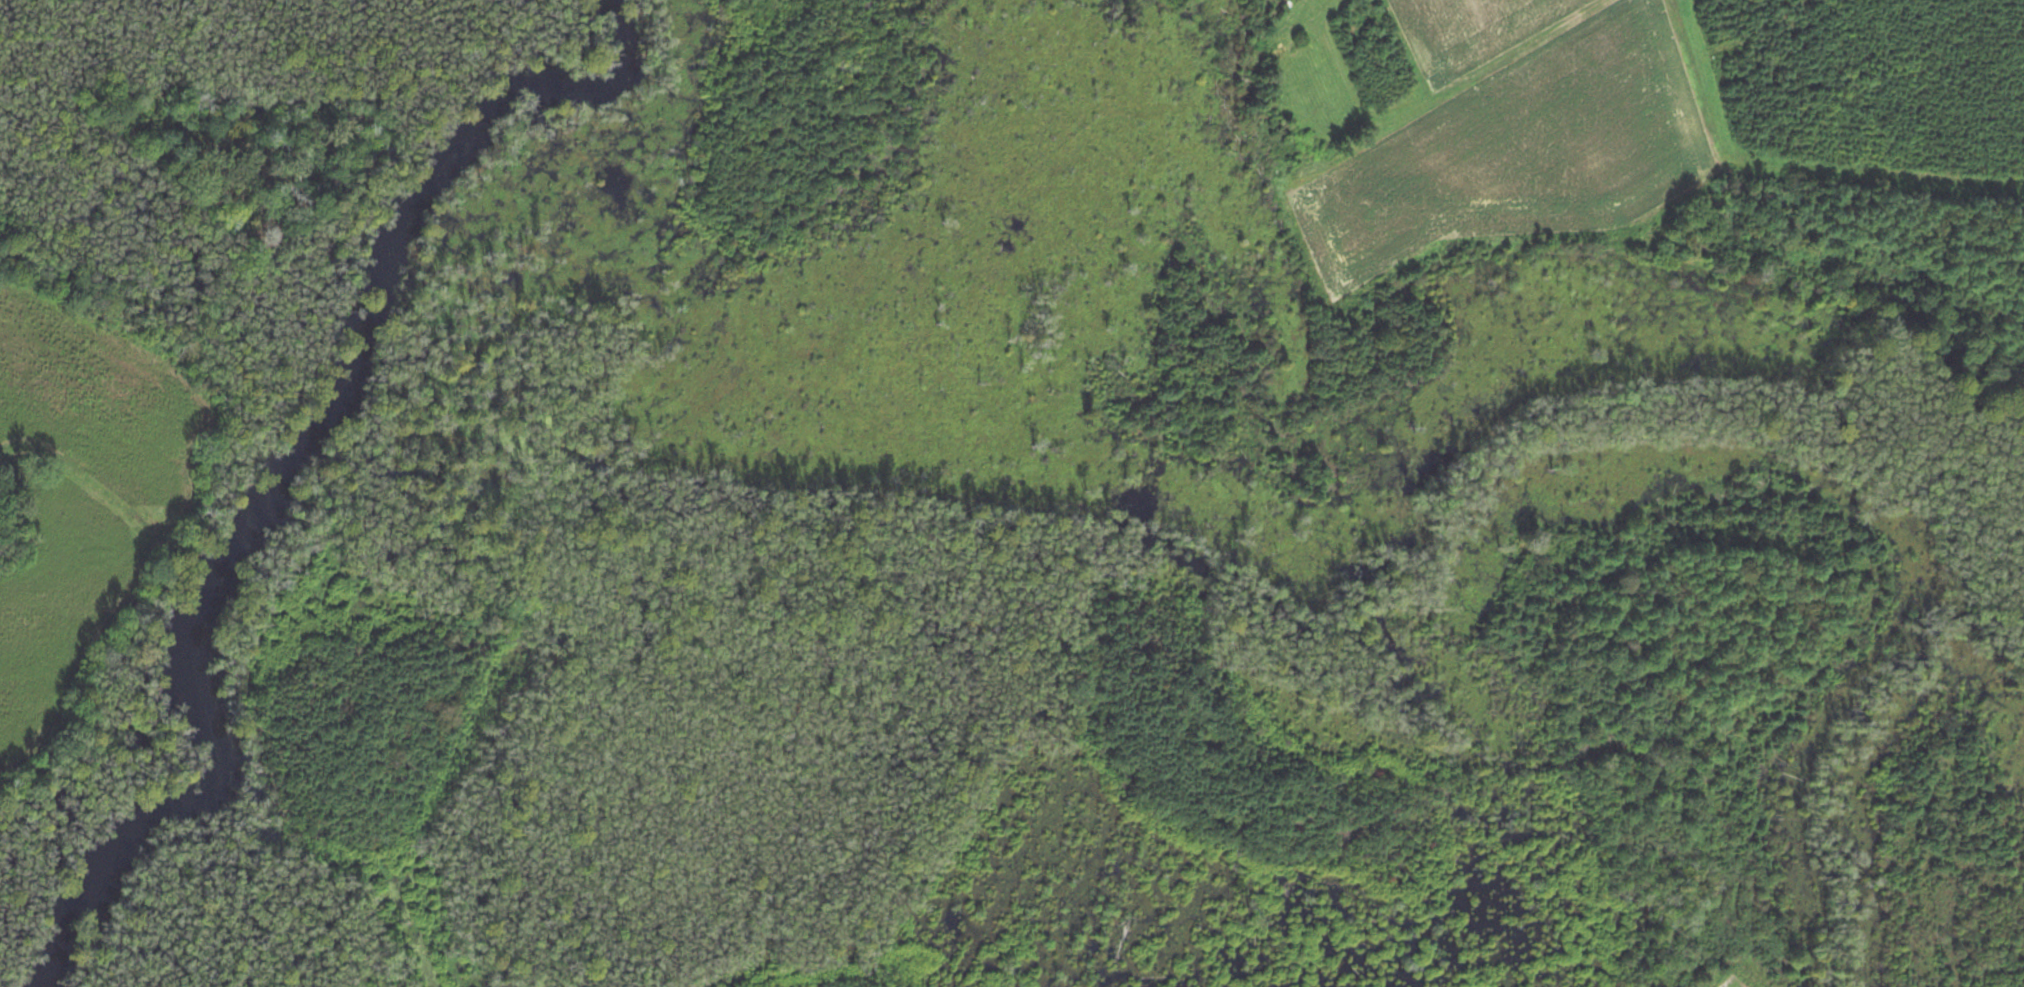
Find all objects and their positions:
road: (1434, 97)

